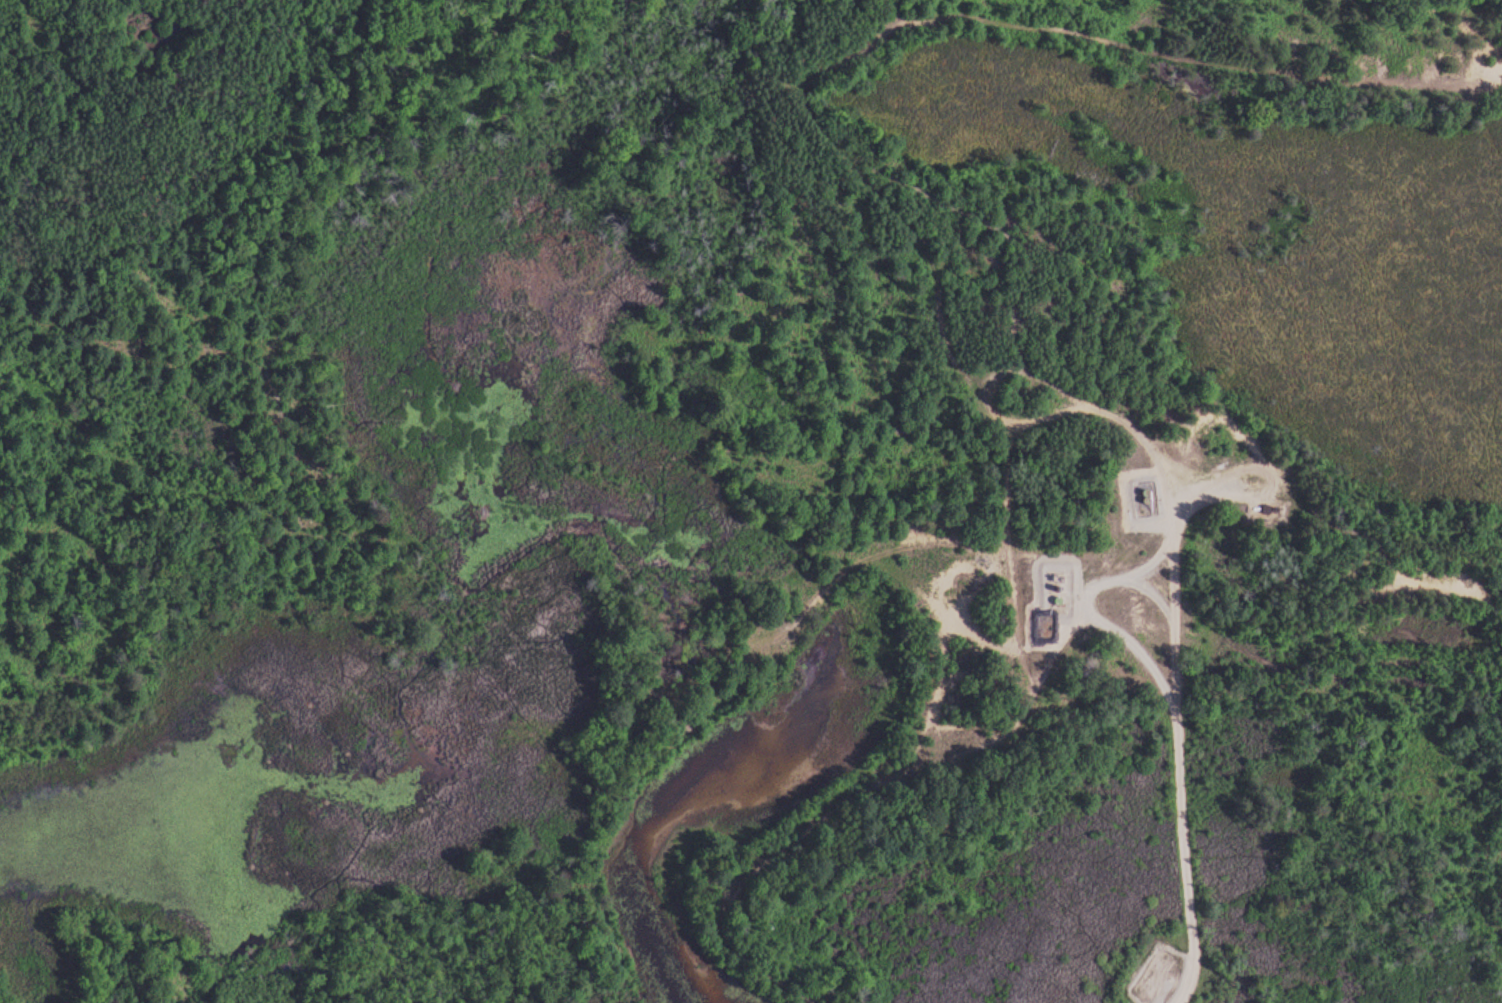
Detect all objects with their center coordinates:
road: (943, 259)
petroleum well: (1270, 507)
building: (1043, 627)

